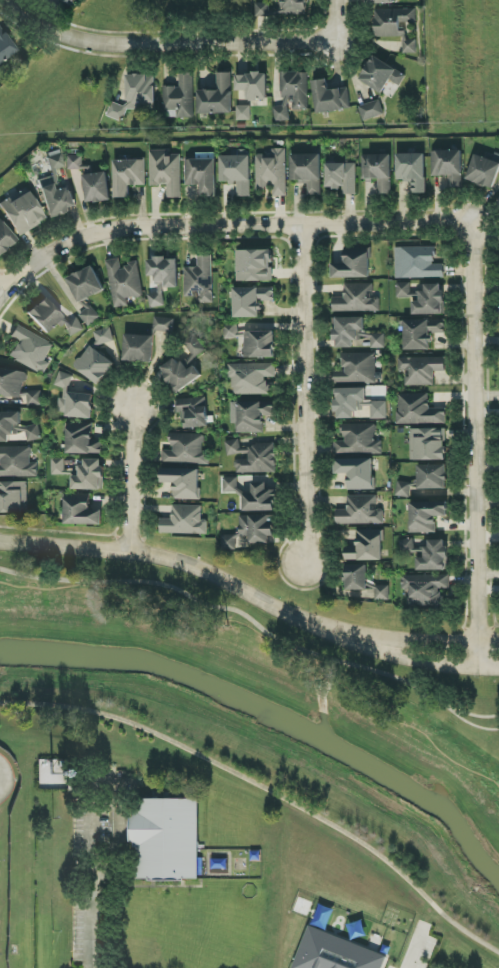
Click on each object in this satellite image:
building: (46, 0)
building: (68, 1)
building: (380, 1)
building: (282, 8)
building: (396, 26)
road: (194, 35)
building: (5, 47)
building: (381, 75)
building: (253, 85)
building: (292, 94)
building: (136, 95)
building: (217, 96)
building: (180, 98)
building: (330, 98)
building: (371, 110)
building: (243, 113)
building: (75, 162)
building: (449, 166)
building: (412, 170)
building: (272, 171)
building: (307, 171)
building: (378, 171)
building: (166, 172)
building: (483, 172)
building: (237, 173)
building: (202, 175)
building: (128, 176)
building: (342, 177)
building: (97, 187)
building: (55, 189)
building: (22, 212)
road: (440, 221)
building: (5, 238)
building: (417, 263)
building: (354, 264)
building: (254, 265)
building: (162, 278)
building: (200, 280)
building: (124, 282)
building: (85, 284)
road: (0, 289)
building: (404, 290)
building: (357, 299)
building: (431, 300)
building: (251, 301)
building: (44, 315)
building: (89, 316)
building: (163, 324)
building: (74, 326)
building: (423, 332)
building: (356, 334)
building: (104, 336)
building: (253, 341)
building: (138, 348)
building: (30, 350)
building: (94, 365)
building: (184, 367)
building: (357, 369)
building: (421, 369)
building: (251, 378)
building: (64, 380)
building: (12, 382)
road: (302, 392)
building: (31, 398)
building: (349, 401)
building: (77, 405)
building: (378, 410)
building: (418, 410)
building: (194, 412)
building: (252, 415)
building: (16, 427)
building: (82, 439)
building: (359, 440)
building: (427, 444)
building: (186, 450)
building: (253, 457)
building: (17, 462)
building: (58, 466)
building: (357, 472)
building: (90, 475)
road: (130, 475)
building: (432, 477)
building: (183, 482)
building: (229, 484)
building: (405, 489)
building: (13, 497)
building: (260, 498)
building: (81, 510)
building: (360, 511)
building: (185, 521)
building: (252, 532)
building: (366, 546)
building: (408, 546)
building: (435, 557)
building: (364, 582)
building: (425, 589)
road: (239, 591)
road: (488, 654)
building: (52, 775)
road: (266, 792)
building: (165, 839)
road: (92, 888)
road: (416, 951)
building: (335, 952)

